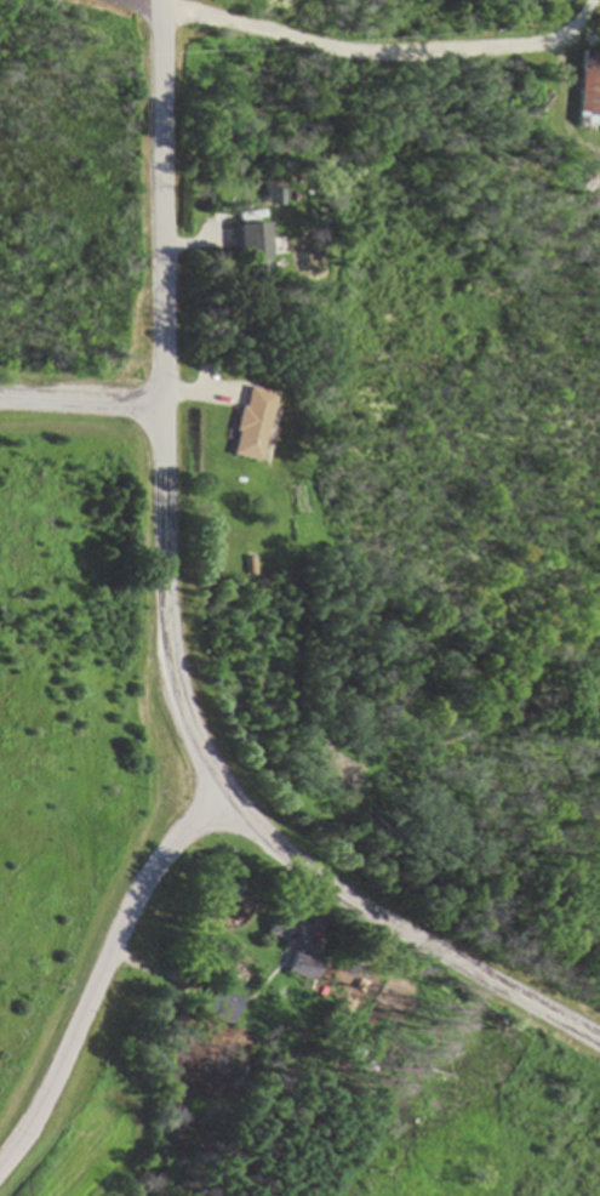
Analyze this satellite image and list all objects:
road: (142, 4)
road: (581, 22)
road: (358, 55)
building: (588, 90)
road: (560, 106)
building: (274, 199)
building: (251, 251)
road: (81, 404)
building: (250, 426)
road: (168, 627)
road: (210, 837)
road: (158, 916)
building: (285, 928)
building: (305, 967)
building: (222, 1009)

